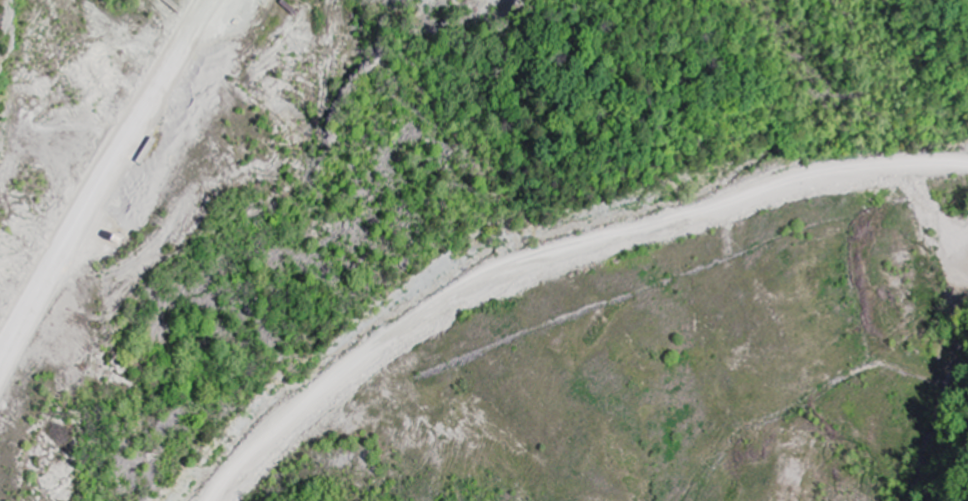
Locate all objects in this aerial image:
road: (108, 184)
road: (556, 257)

